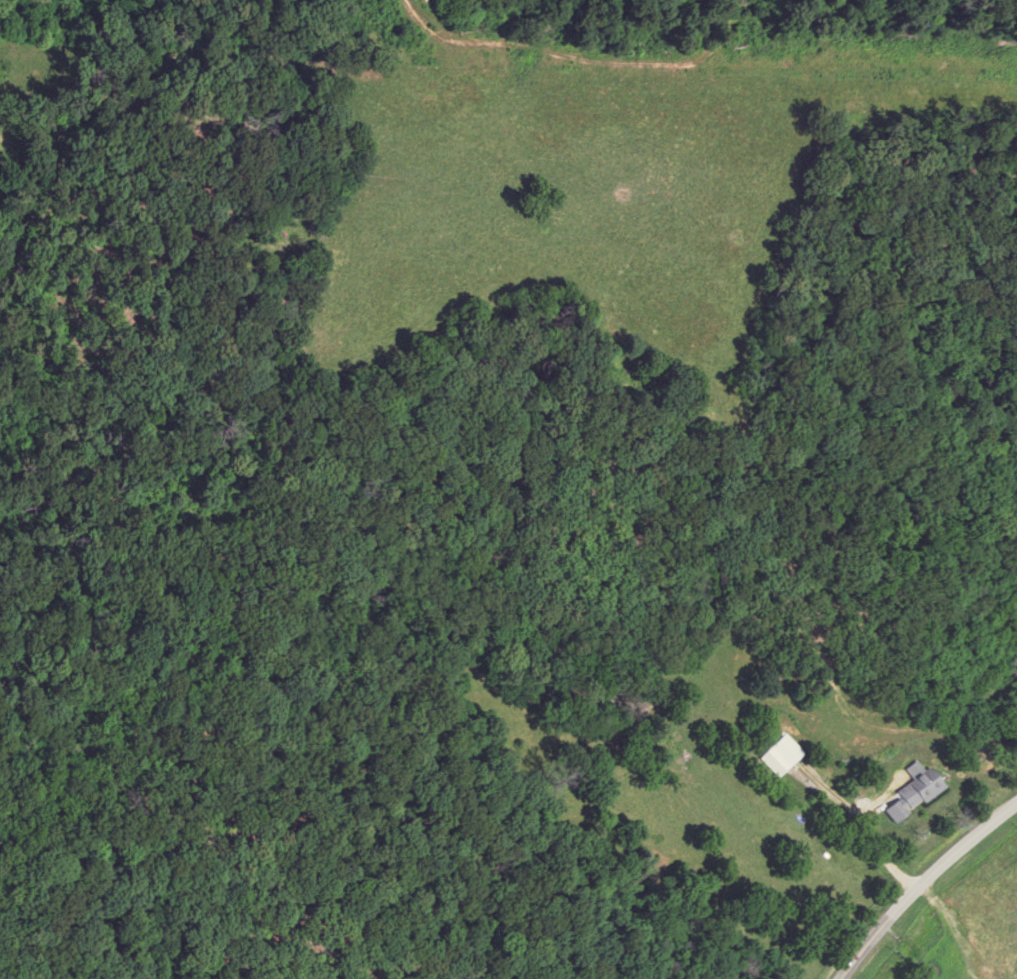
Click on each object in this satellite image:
building: (779, 749)
building: (907, 792)
road: (919, 880)

